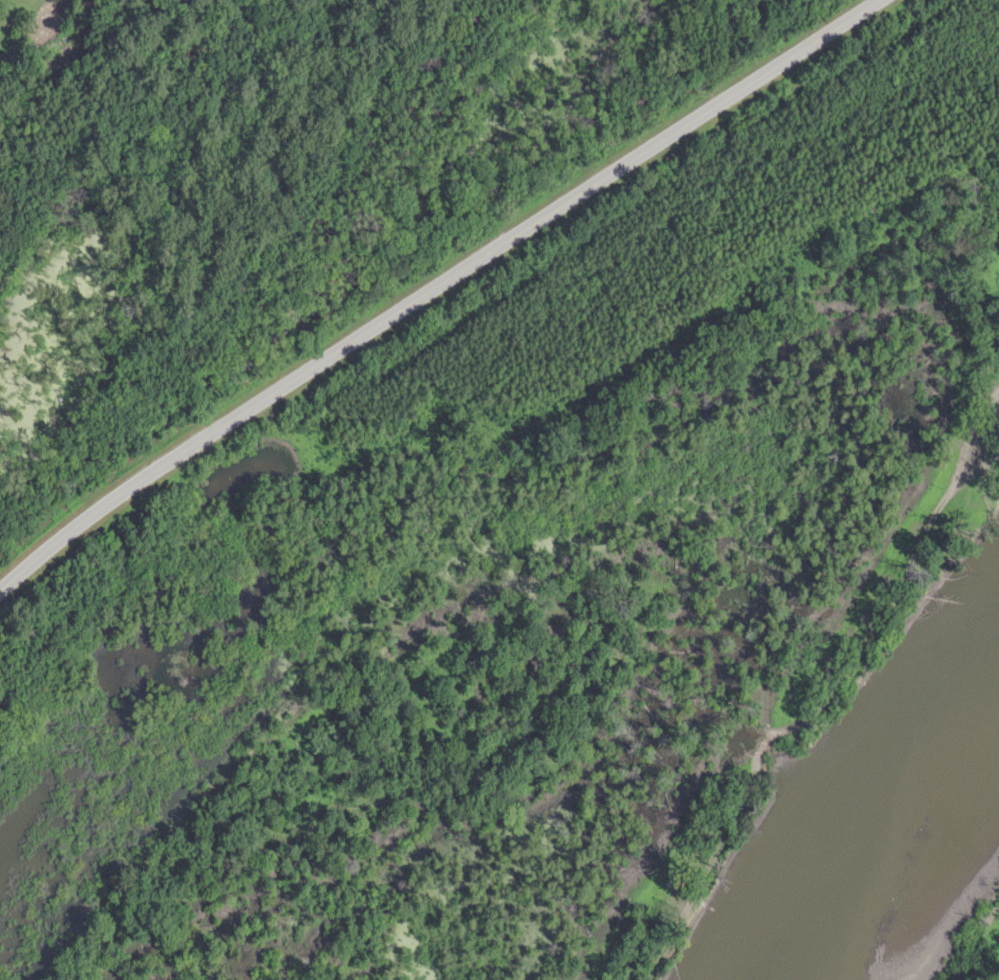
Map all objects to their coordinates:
road: (435, 285)
building: (994, 440)

